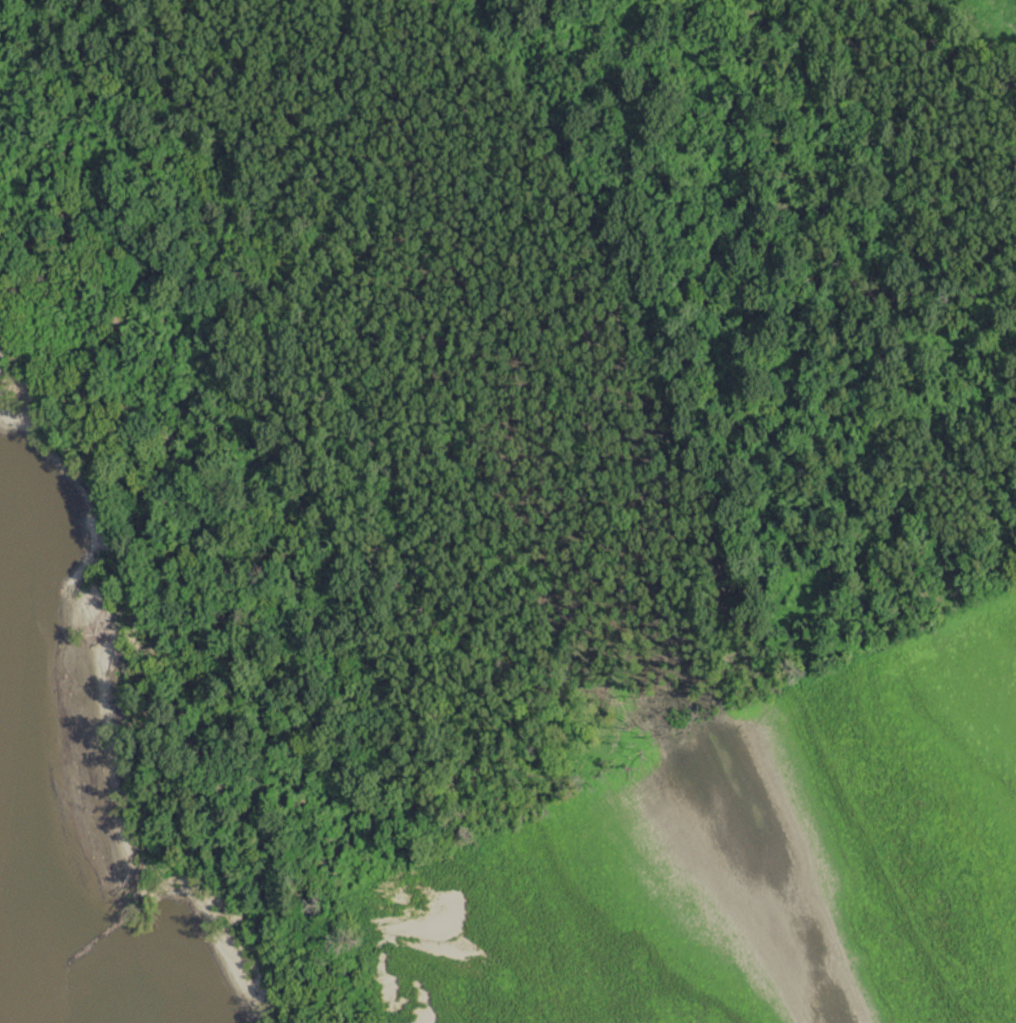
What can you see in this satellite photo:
crop: (747, 861)

